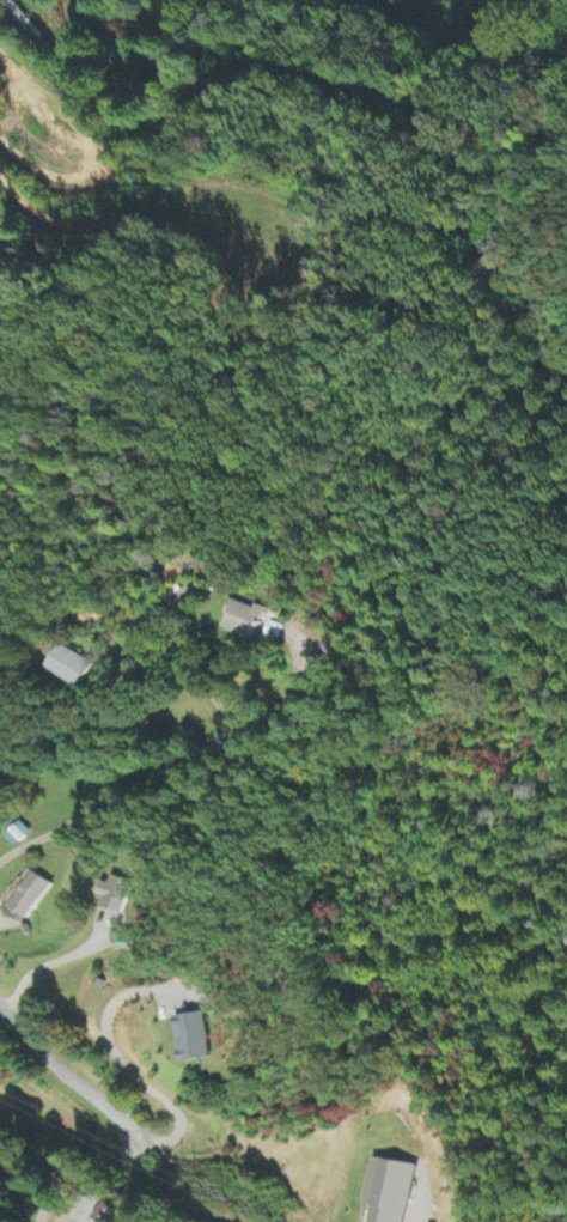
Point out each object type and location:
railway: (446, 36)
road: (72, 101)
building: (244, 620)
building: (69, 667)
road: (200, 687)
road: (166, 772)
building: (17, 835)
building: (114, 894)
building: (26, 896)
road: (53, 960)
building: (191, 1039)
road: (126, 1065)
road: (60, 1070)
road: (86, 1177)
building: (389, 1191)
building: (104, 1214)

